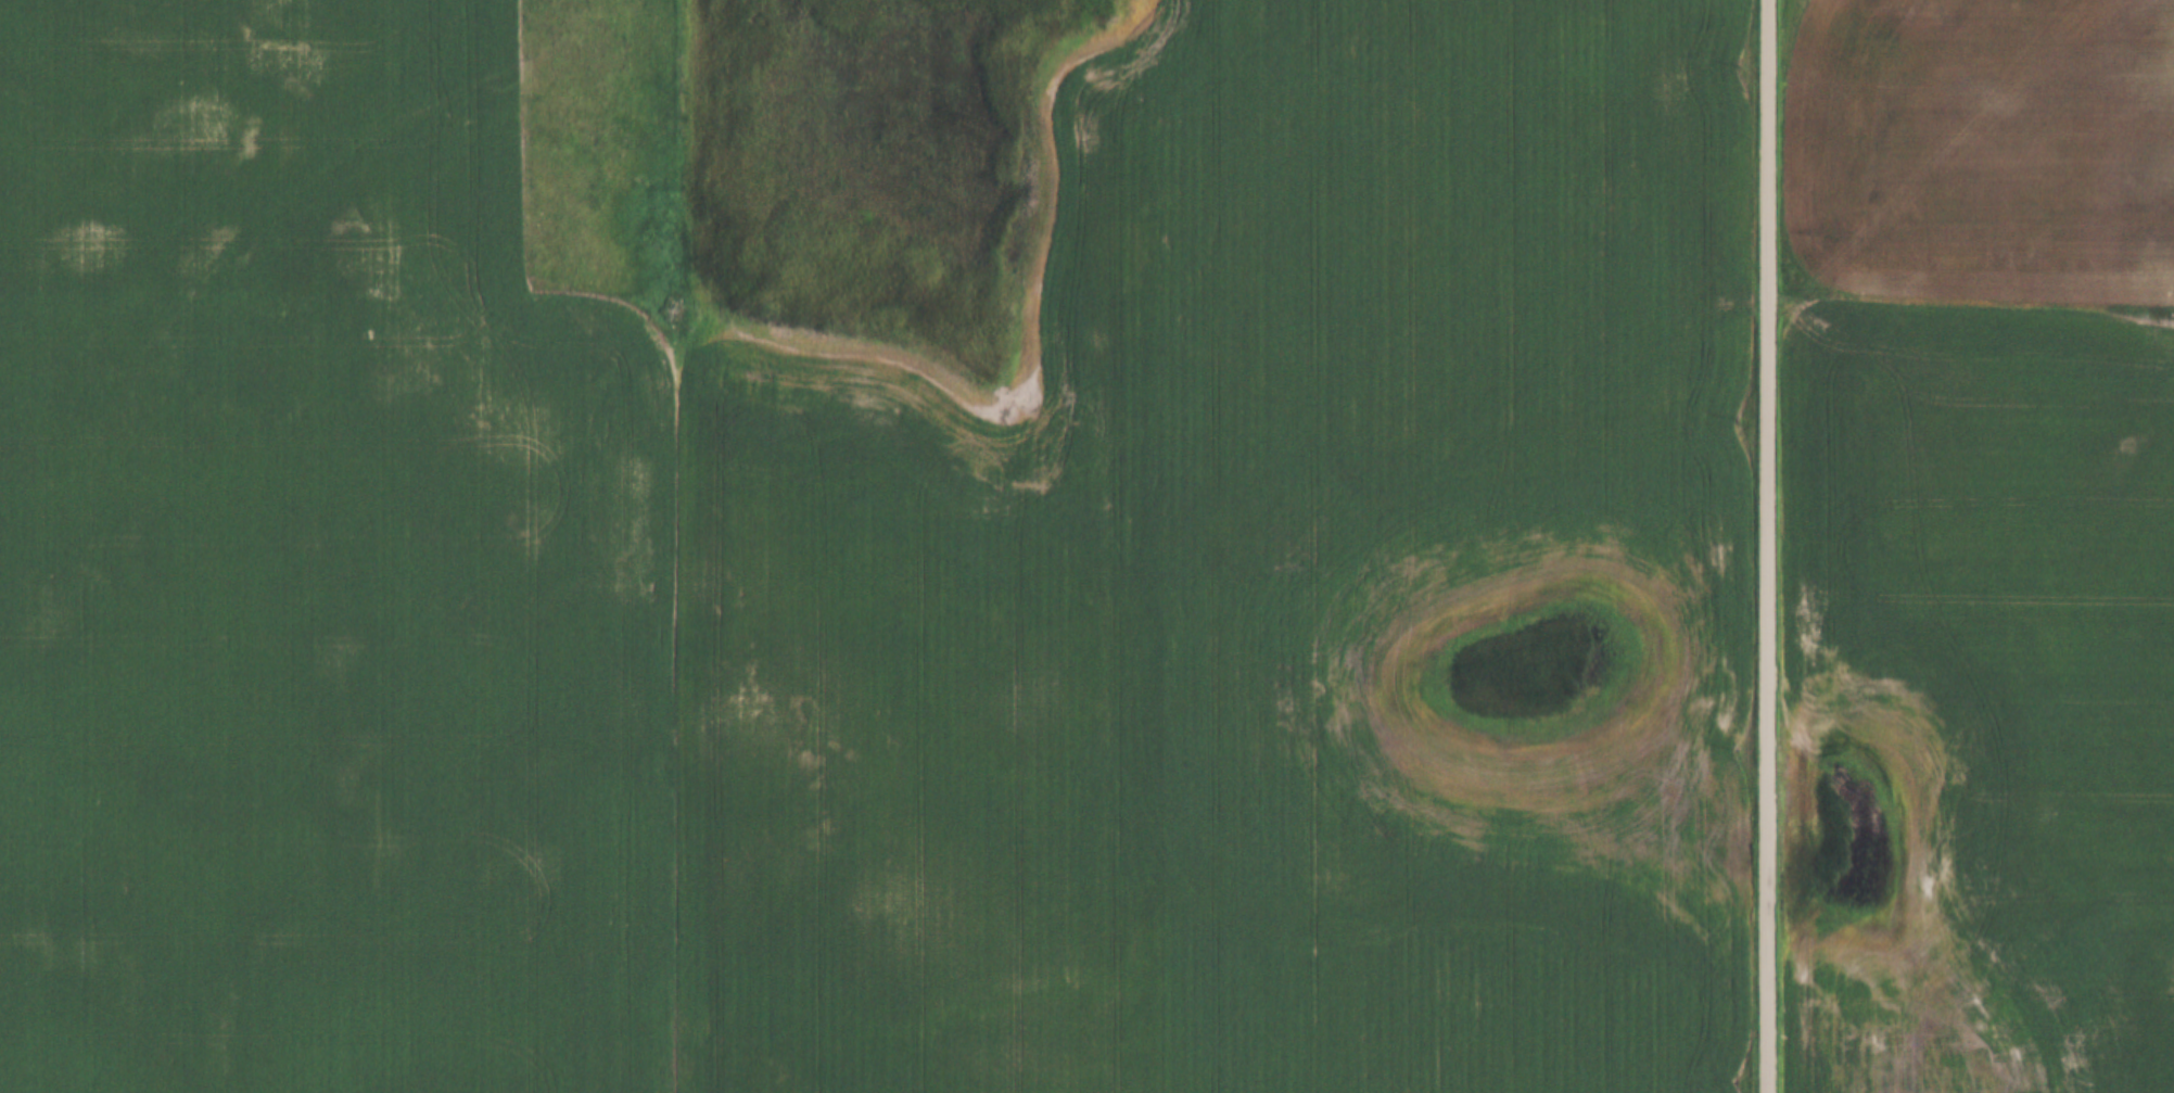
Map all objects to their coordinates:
road: (1769, 546)

